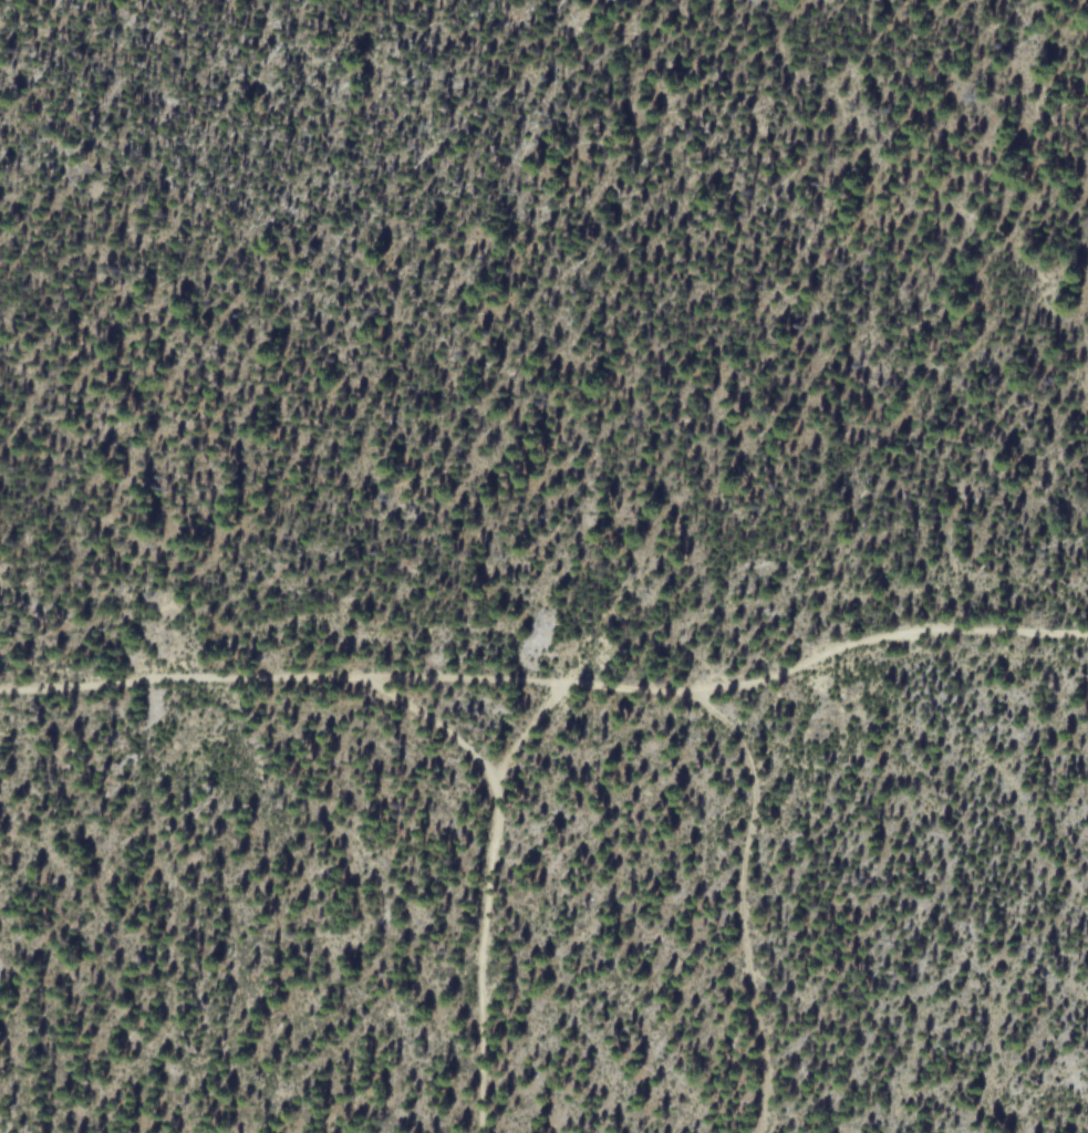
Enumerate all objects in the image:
road: (548, 682)
road: (527, 728)
road: (489, 870)

